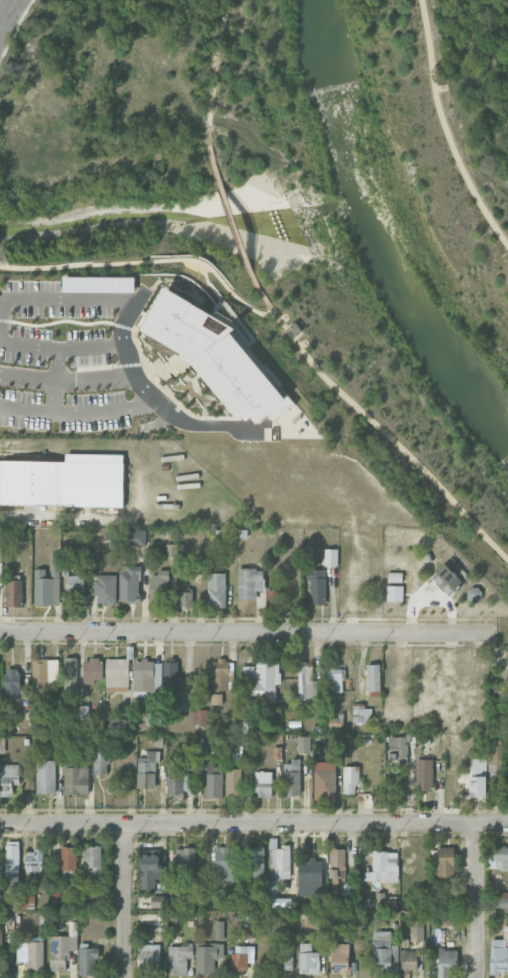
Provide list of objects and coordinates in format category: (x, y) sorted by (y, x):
road: (7, 12)
road: (213, 71)
park: (478, 80)
road: (445, 130)
road: (234, 225)
river: (374, 234)
park: (360, 239)
road: (148, 261)
building: (99, 284)
road: (2, 320)
building: (296, 328)
building: (215, 358)
road: (57, 380)
road: (65, 380)
road: (151, 398)
road: (77, 413)
road: (386, 433)
building: (64, 481)
road: (73, 518)
building: (135, 537)
building: (171, 550)
building: (331, 557)
building: (0, 564)
building: (450, 576)
building: (395, 577)
building: (48, 583)
building: (130, 583)
building: (249, 583)
building: (75, 584)
building: (317, 585)
building: (158, 586)
building: (106, 589)
building: (216, 589)
building: (14, 593)
building: (395, 593)
building: (274, 597)
building: (185, 599)
road: (247, 631)
building: (93, 670)
building: (45, 673)
building: (171, 674)
building: (219, 674)
building: (69, 675)
building: (117, 675)
building: (147, 677)
building: (262, 680)
building: (334, 680)
building: (374, 680)
building: (12, 683)
building: (308, 683)
building: (216, 699)
building: (80, 712)
building: (362, 714)
building: (200, 717)
building: (303, 744)
building: (399, 747)
building: (277, 753)
building: (101, 762)
building: (148, 763)
building: (424, 774)
building: (180, 775)
building: (45, 776)
building: (292, 777)
building: (478, 777)
building: (8, 778)
building: (350, 779)
building: (76, 780)
building: (214, 781)
building: (233, 781)
building: (325, 781)
building: (263, 784)
road: (254, 822)
building: (12, 855)
building: (498, 857)
building: (68, 858)
building: (93, 859)
building: (34, 860)
building: (184, 861)
building: (255, 862)
building: (337, 862)
building: (445, 862)
building: (278, 863)
building: (223, 864)
building: (383, 867)
building: (151, 869)
building: (310, 871)
building: (17, 893)
road: (474, 899)
building: (500, 899)
road: (123, 900)
building: (440, 915)
building: (314, 919)
building: (248, 926)
building: (219, 930)
building: (0, 936)
building: (62, 950)
building: (499, 953)
building: (384, 954)
building: (35, 955)
building: (207, 958)
building: (239, 958)
building: (339, 958)
building: (149, 959)
building: (179, 959)
building: (308, 959)
building: (88, 960)
building: (409, 961)
building: (286, 962)
building: (446, 962)

